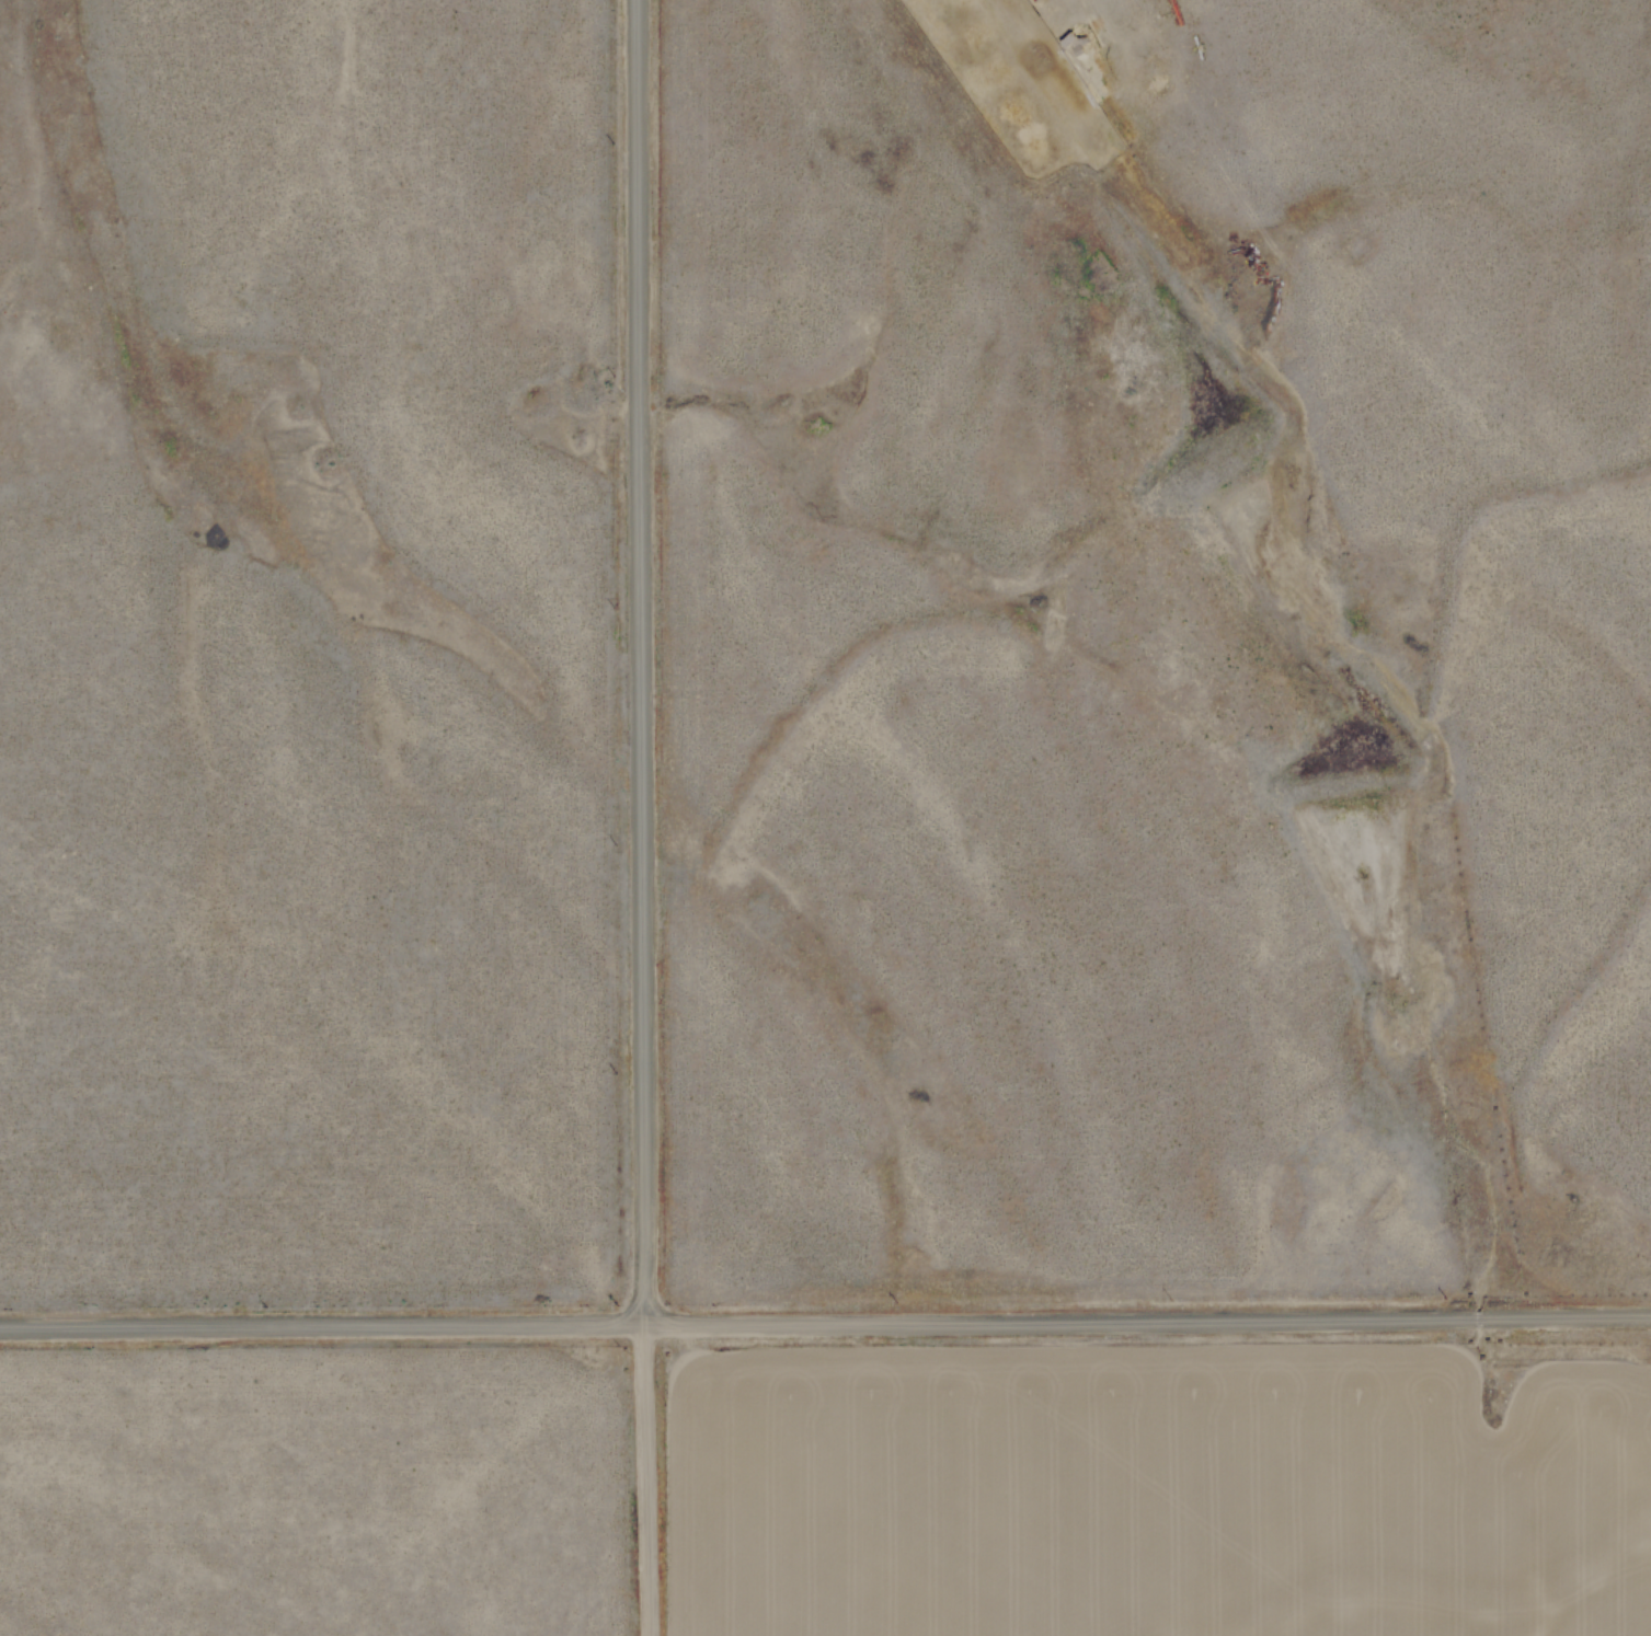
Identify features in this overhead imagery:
road: (638, 661)
road: (825, 1322)
road: (643, 1479)
crop: (1172, 1499)

